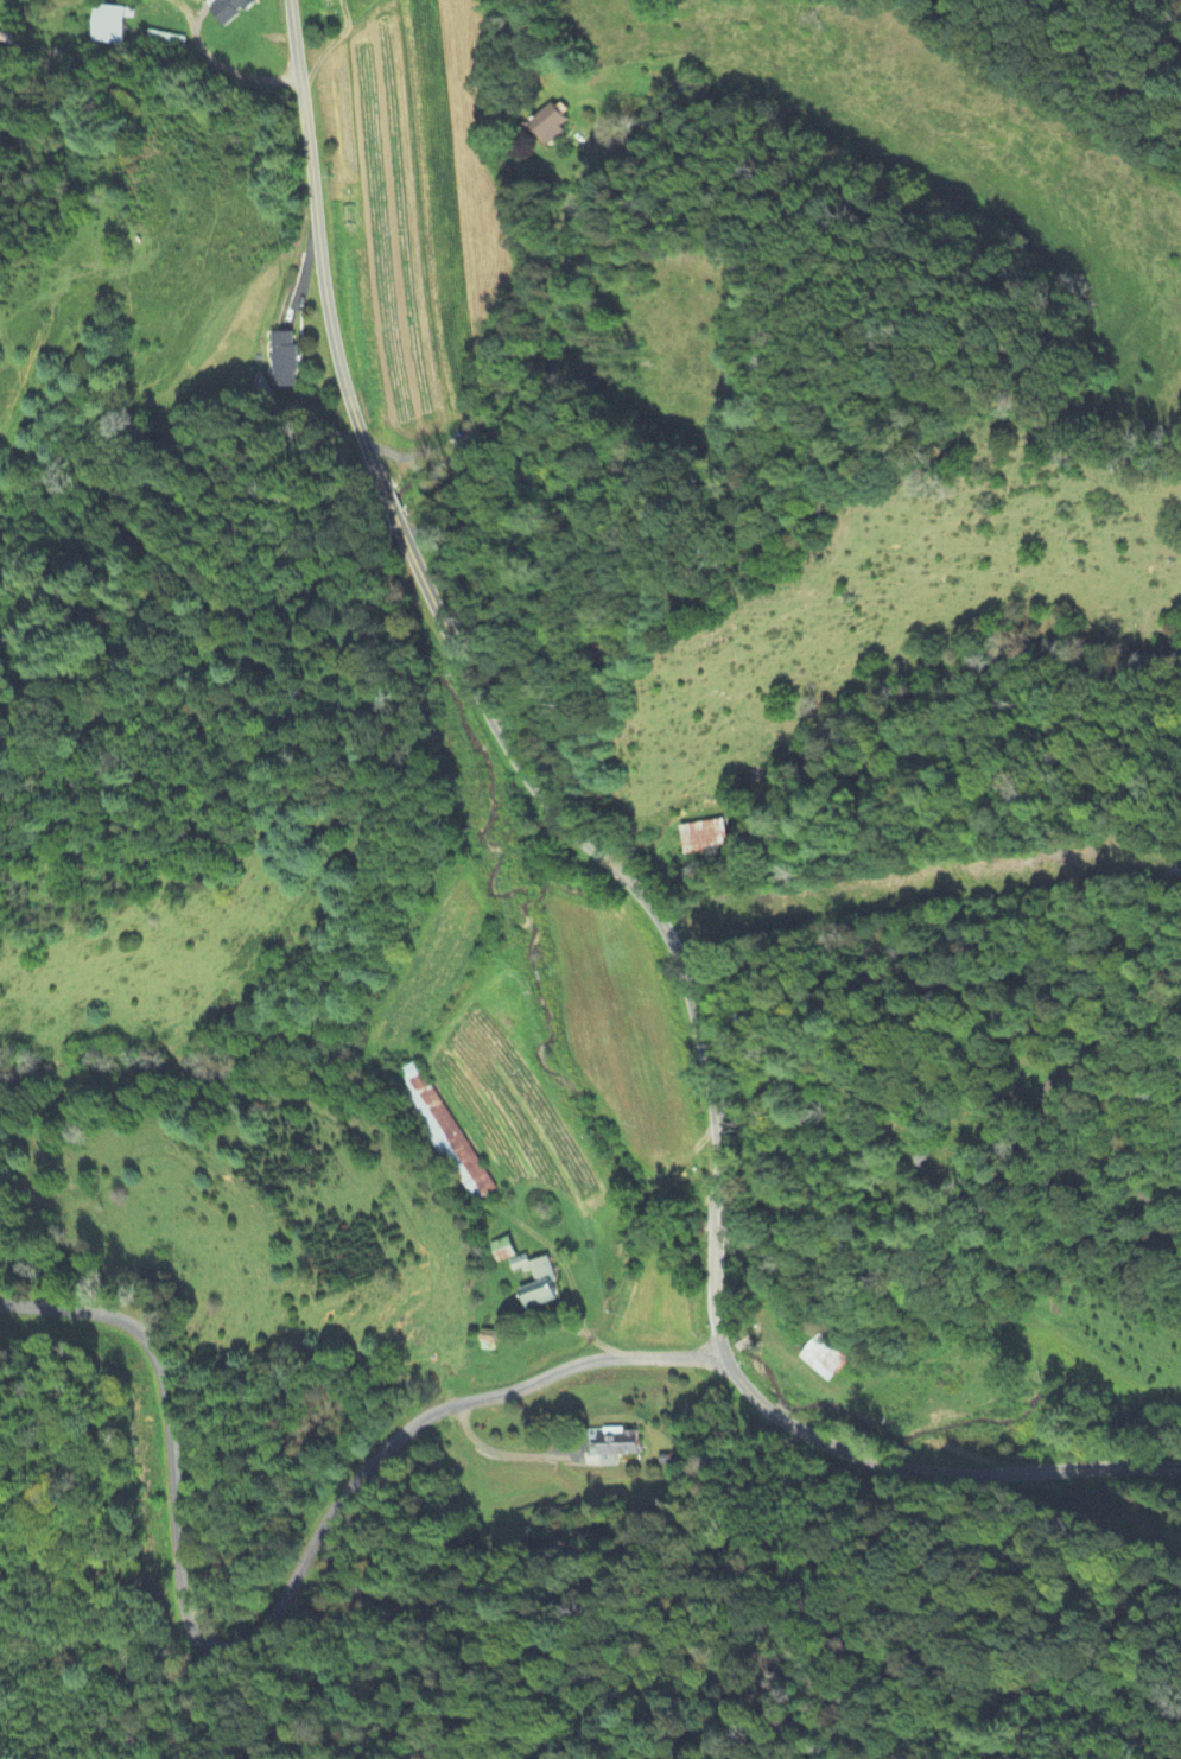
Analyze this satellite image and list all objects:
building: (234, 9)
building: (110, 25)
building: (554, 125)
building: (286, 360)
road: (444, 627)
building: (701, 837)
building: (445, 1133)
road: (716, 1214)
road: (718, 1295)
building: (612, 1444)
road: (932, 1467)
road: (273, 1609)

